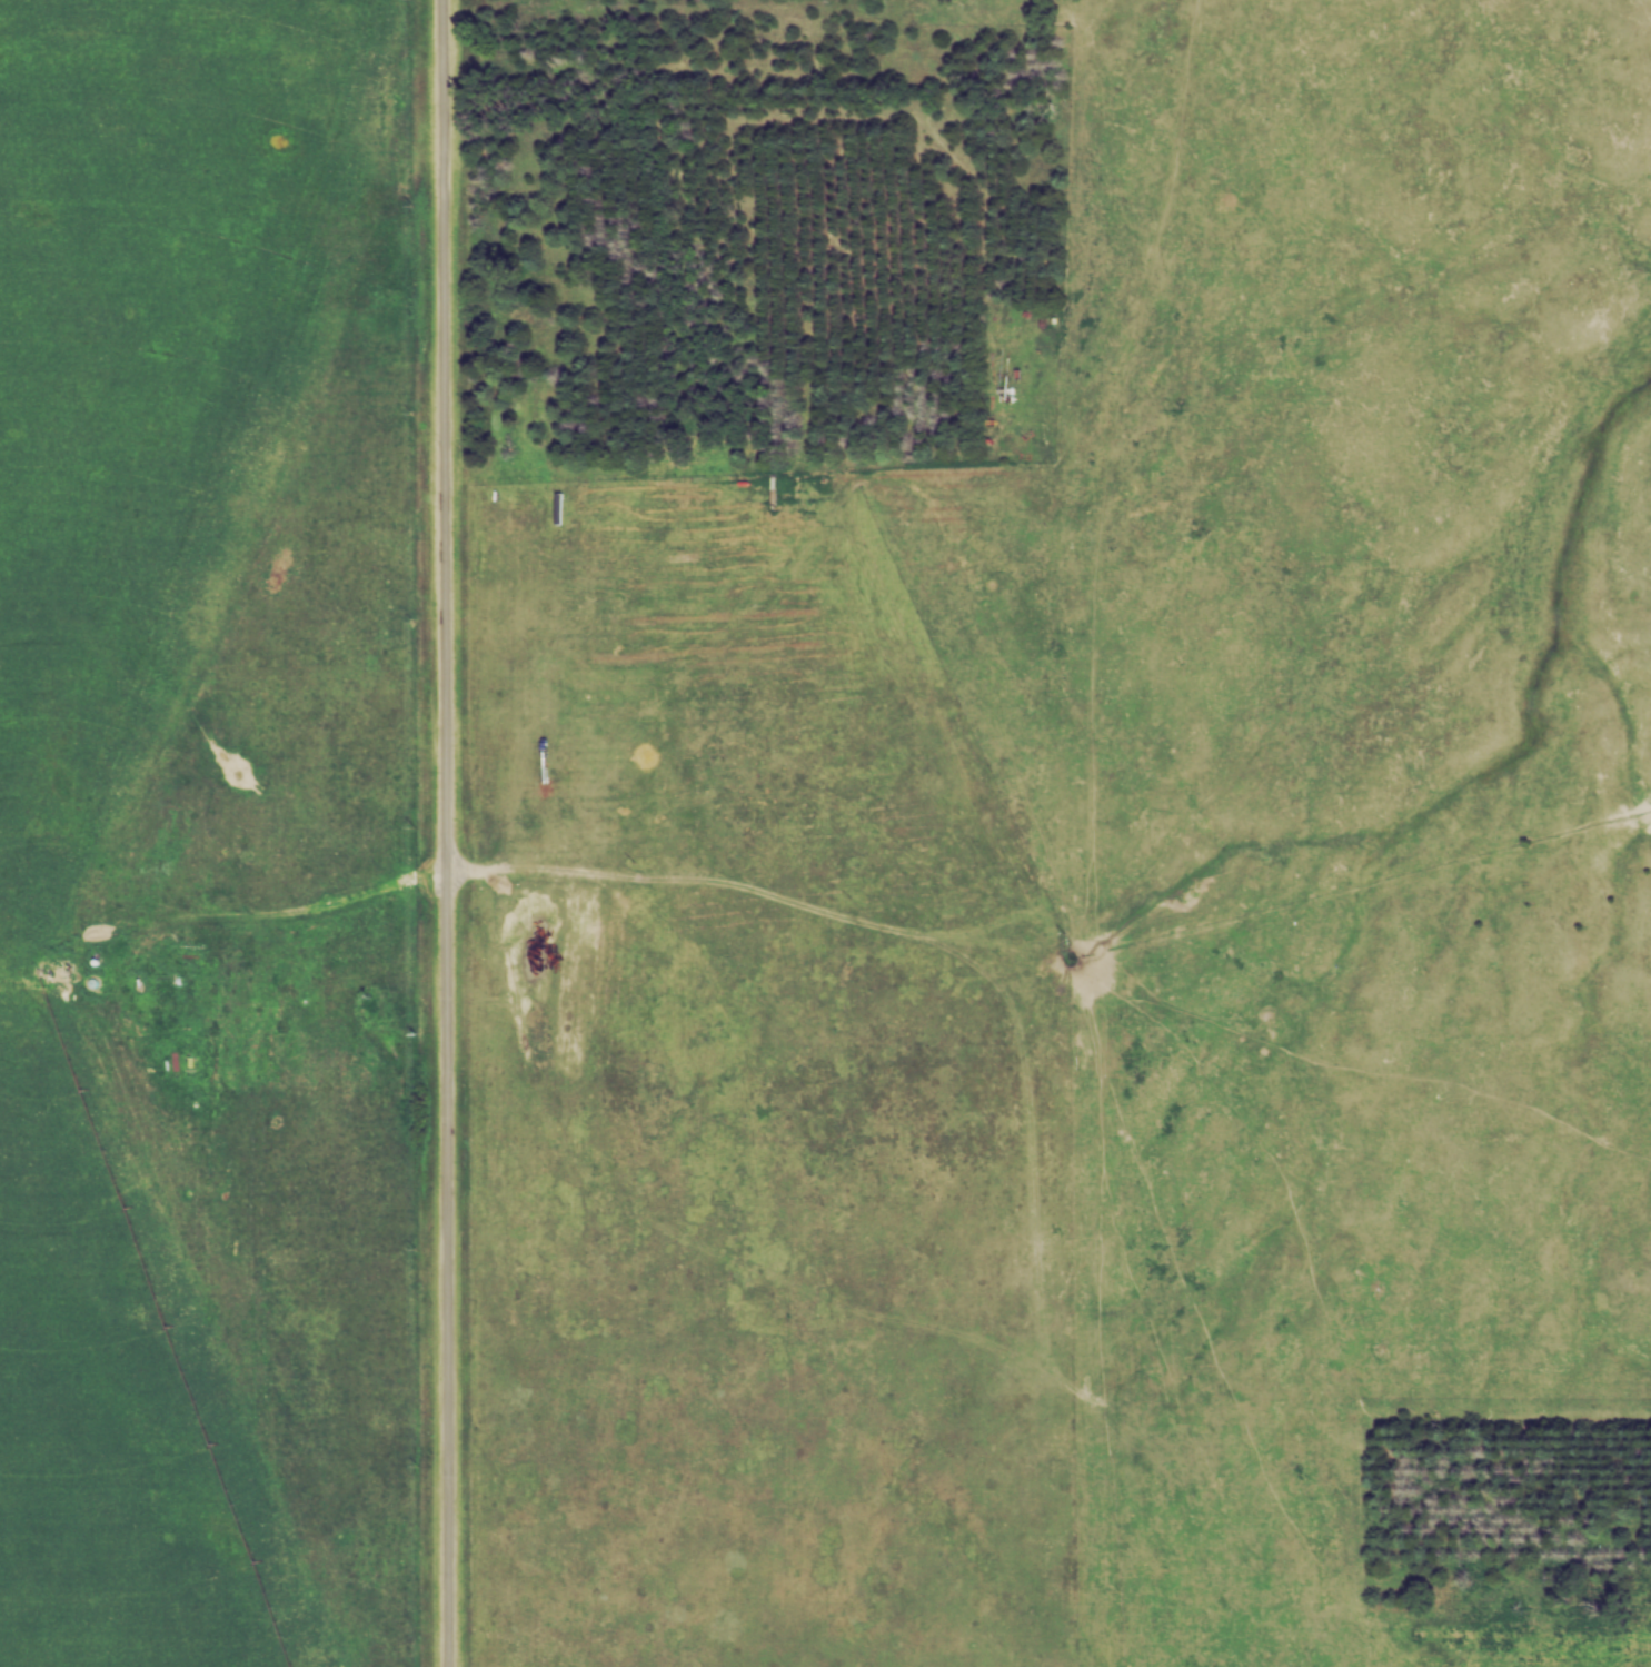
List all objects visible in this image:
road: (438, 833)

